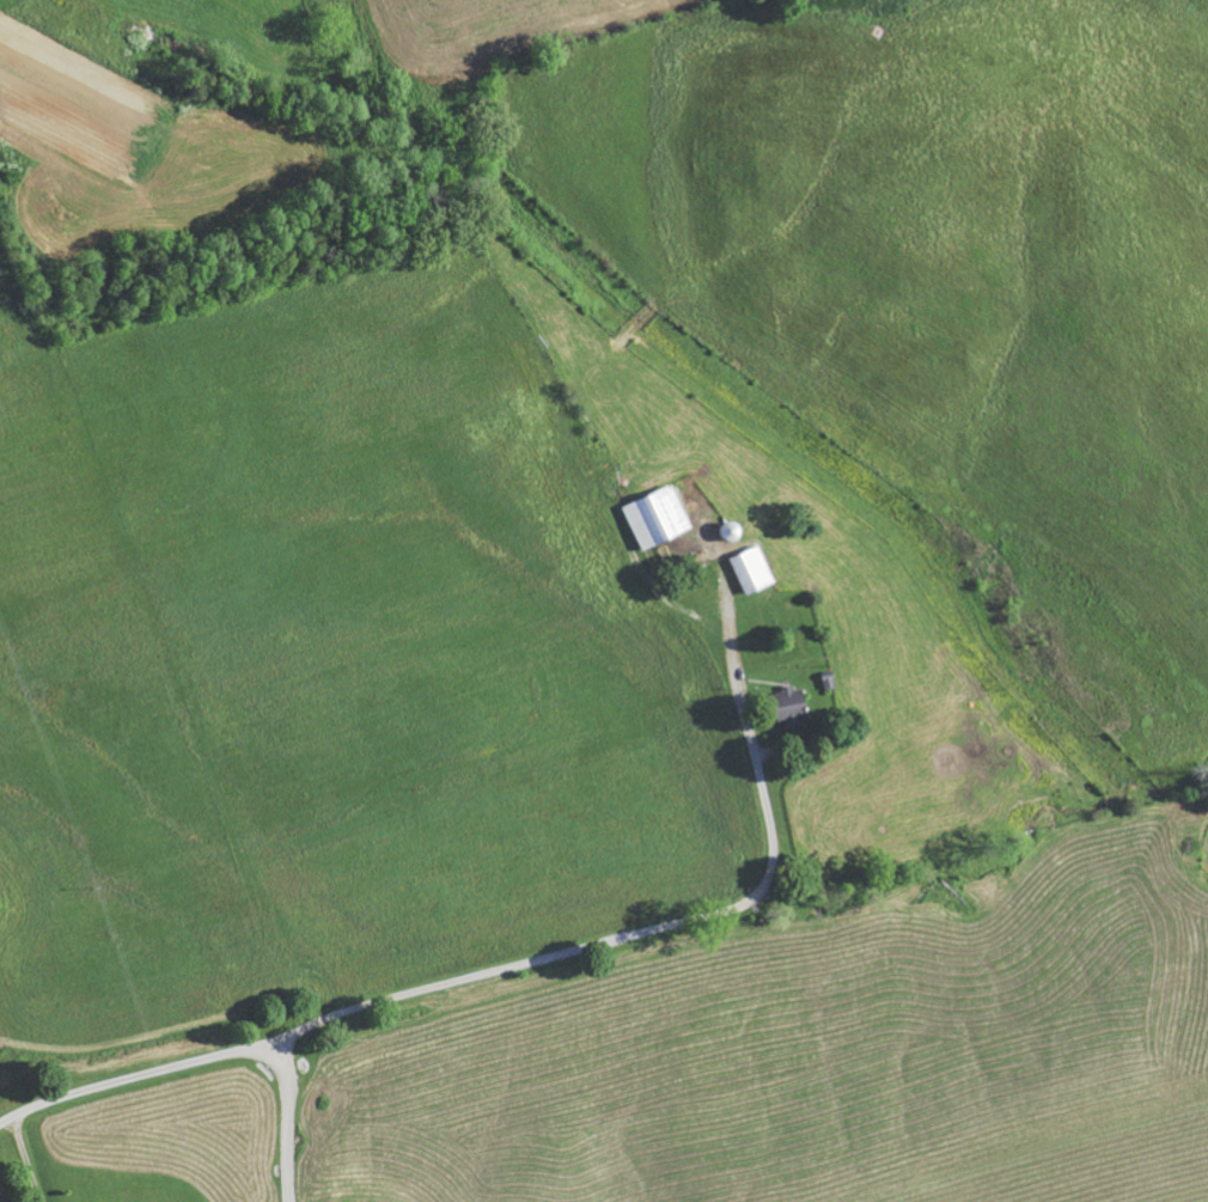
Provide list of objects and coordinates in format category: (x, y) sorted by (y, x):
building: (659, 518)
building: (752, 571)
building: (794, 704)
road: (474, 972)

